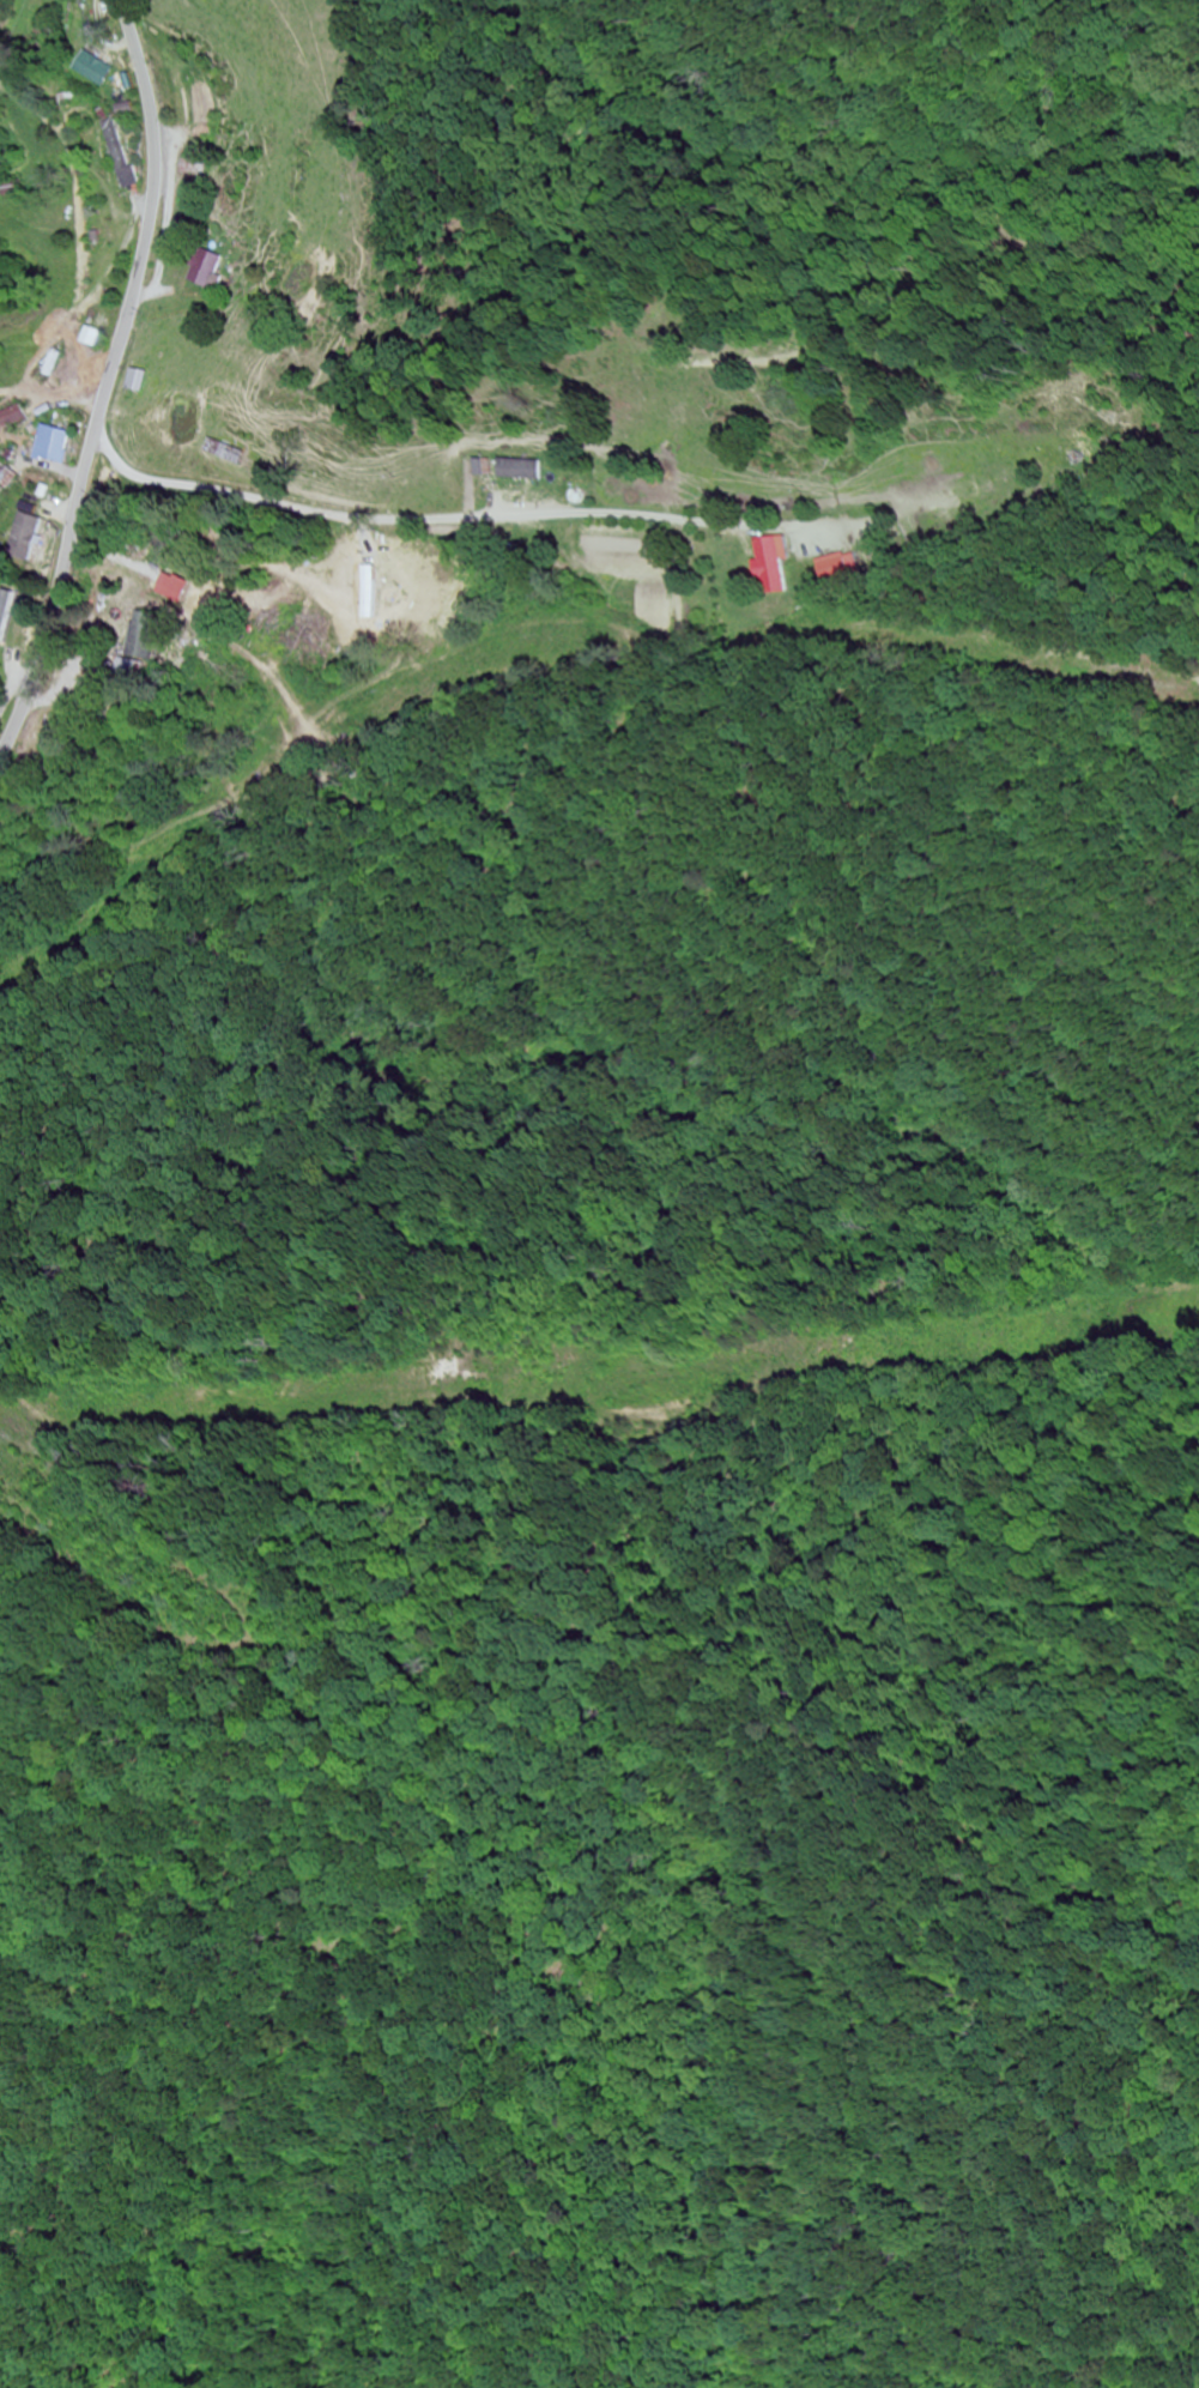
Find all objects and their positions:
building: (97, 69)
building: (122, 157)
building: (210, 272)
building: (93, 338)
building: (138, 381)
road: (114, 386)
building: (59, 446)
building: (230, 452)
building: (526, 471)
building: (2, 474)
building: (30, 538)
building: (776, 564)
building: (841, 568)

